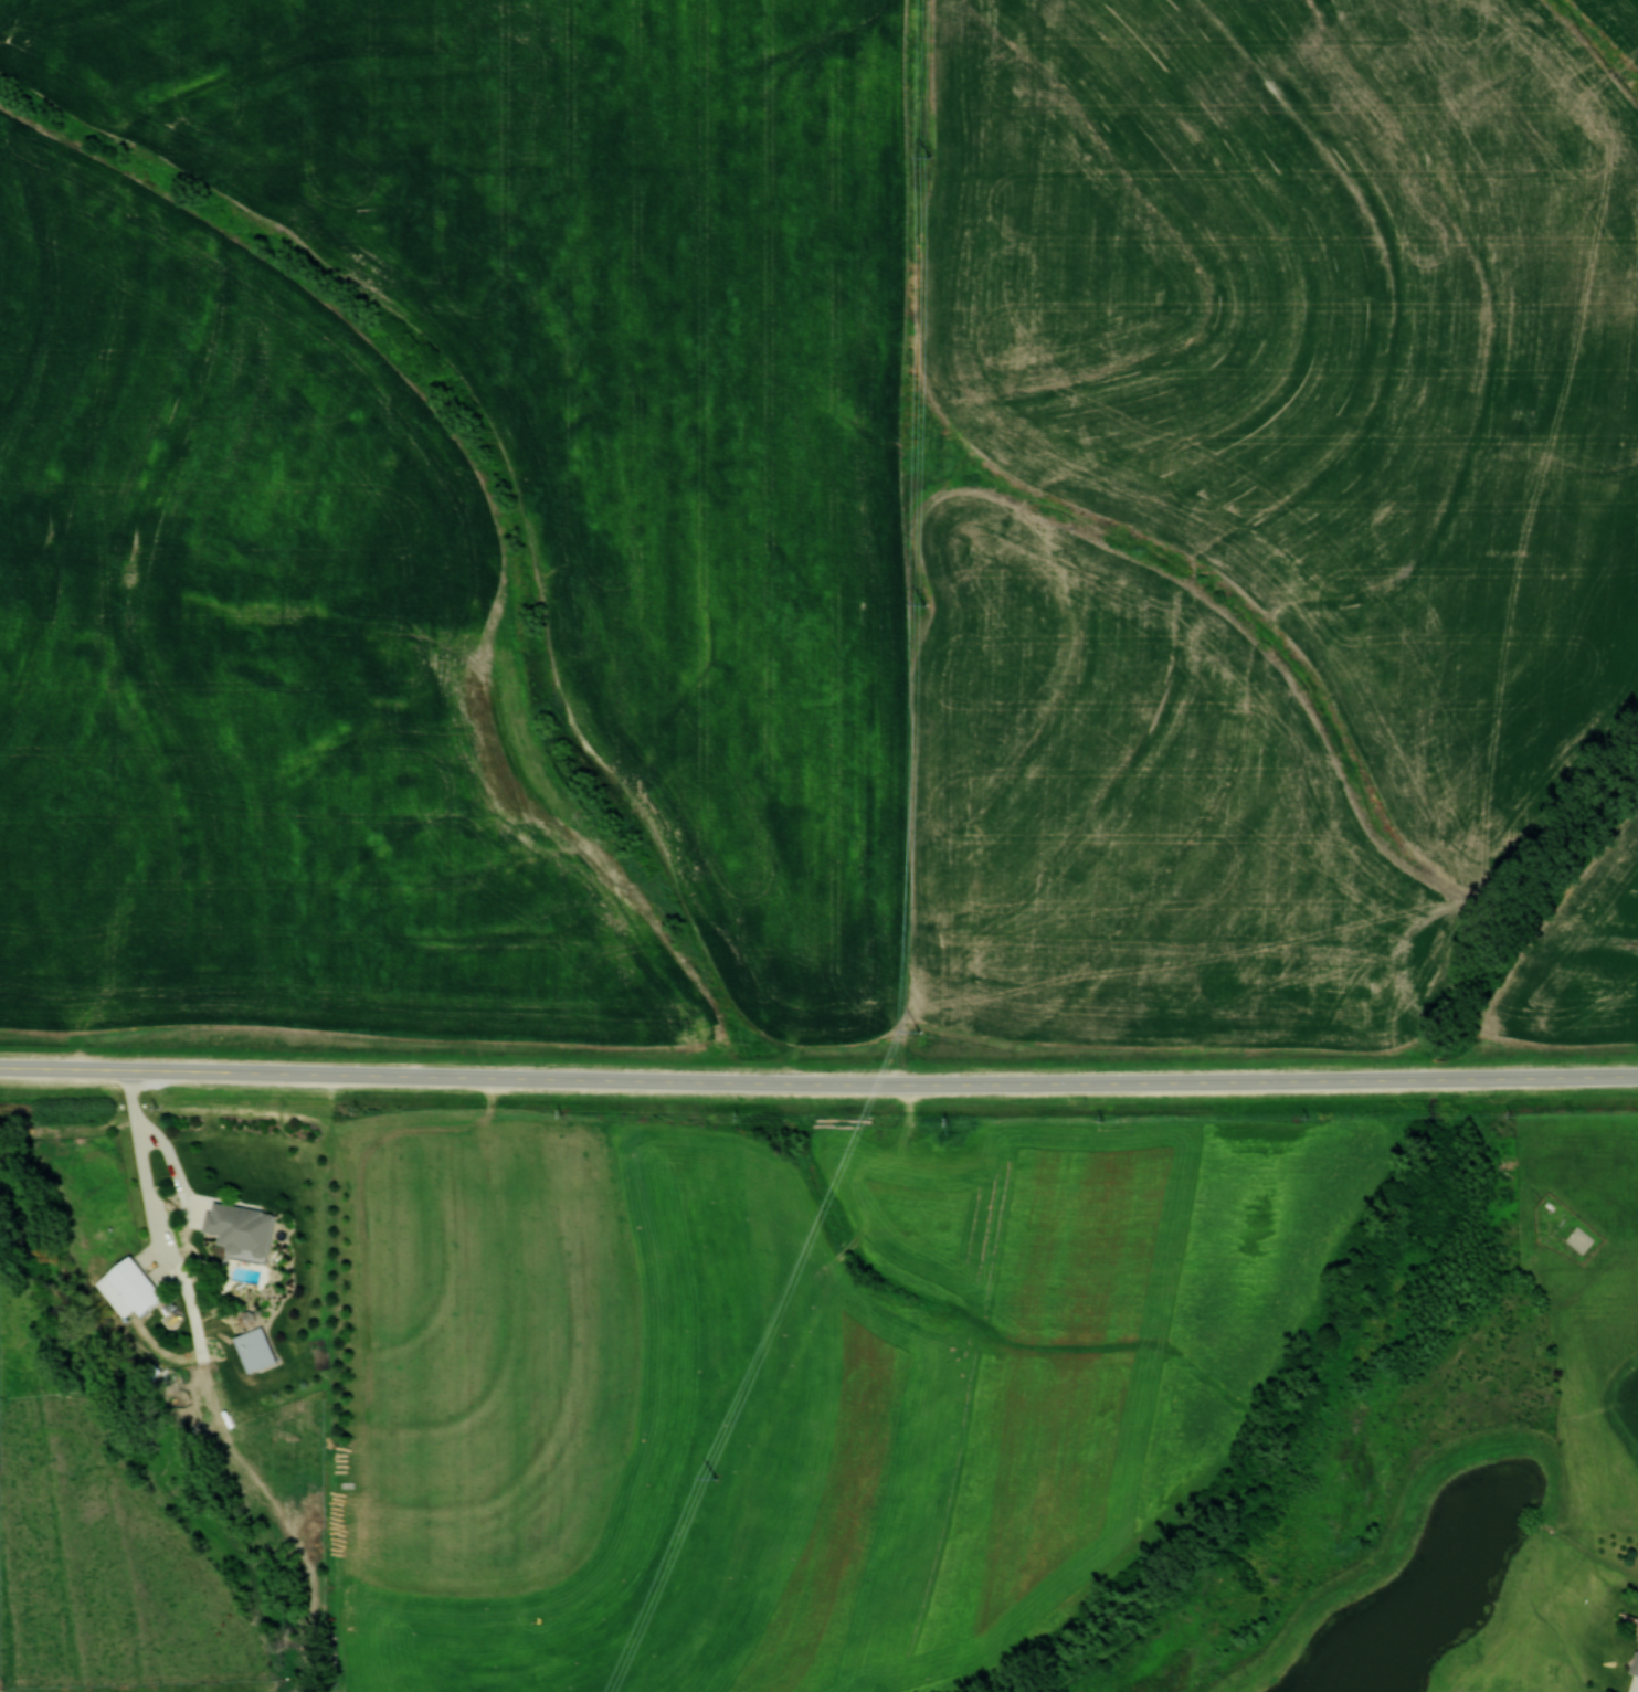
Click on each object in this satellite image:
power tower: (928, 157)
power tower: (923, 604)
power tower: (918, 1030)
road: (173, 1070)
road: (992, 1082)
building: (239, 1227)
building: (128, 1288)
park: (1407, 1446)
power tower: (715, 1476)
building: (1636, 1663)

